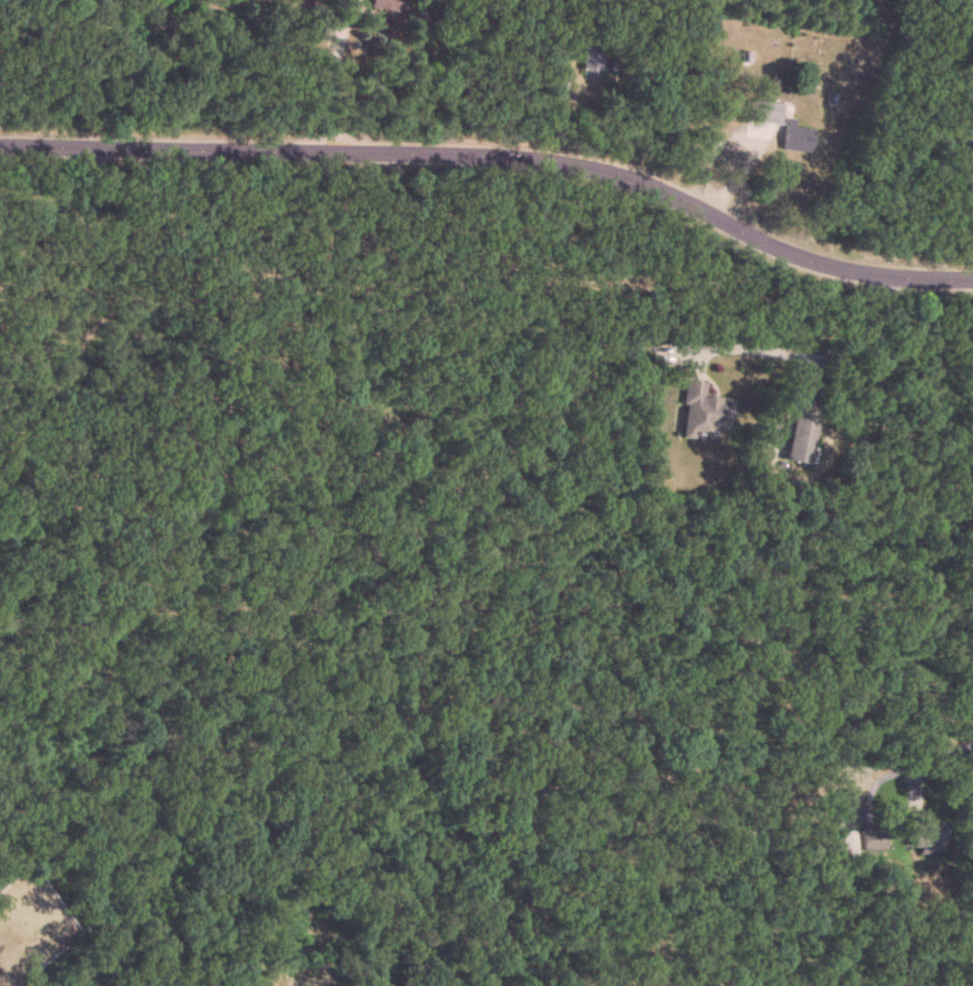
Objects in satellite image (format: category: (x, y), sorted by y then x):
building: (387, 4)
building: (590, 58)
road: (334, 73)
building: (764, 112)
building: (797, 138)
road: (741, 141)
road: (496, 156)
road: (815, 357)
building: (704, 412)
building: (802, 440)
road: (938, 753)
building: (926, 834)
building: (873, 839)

